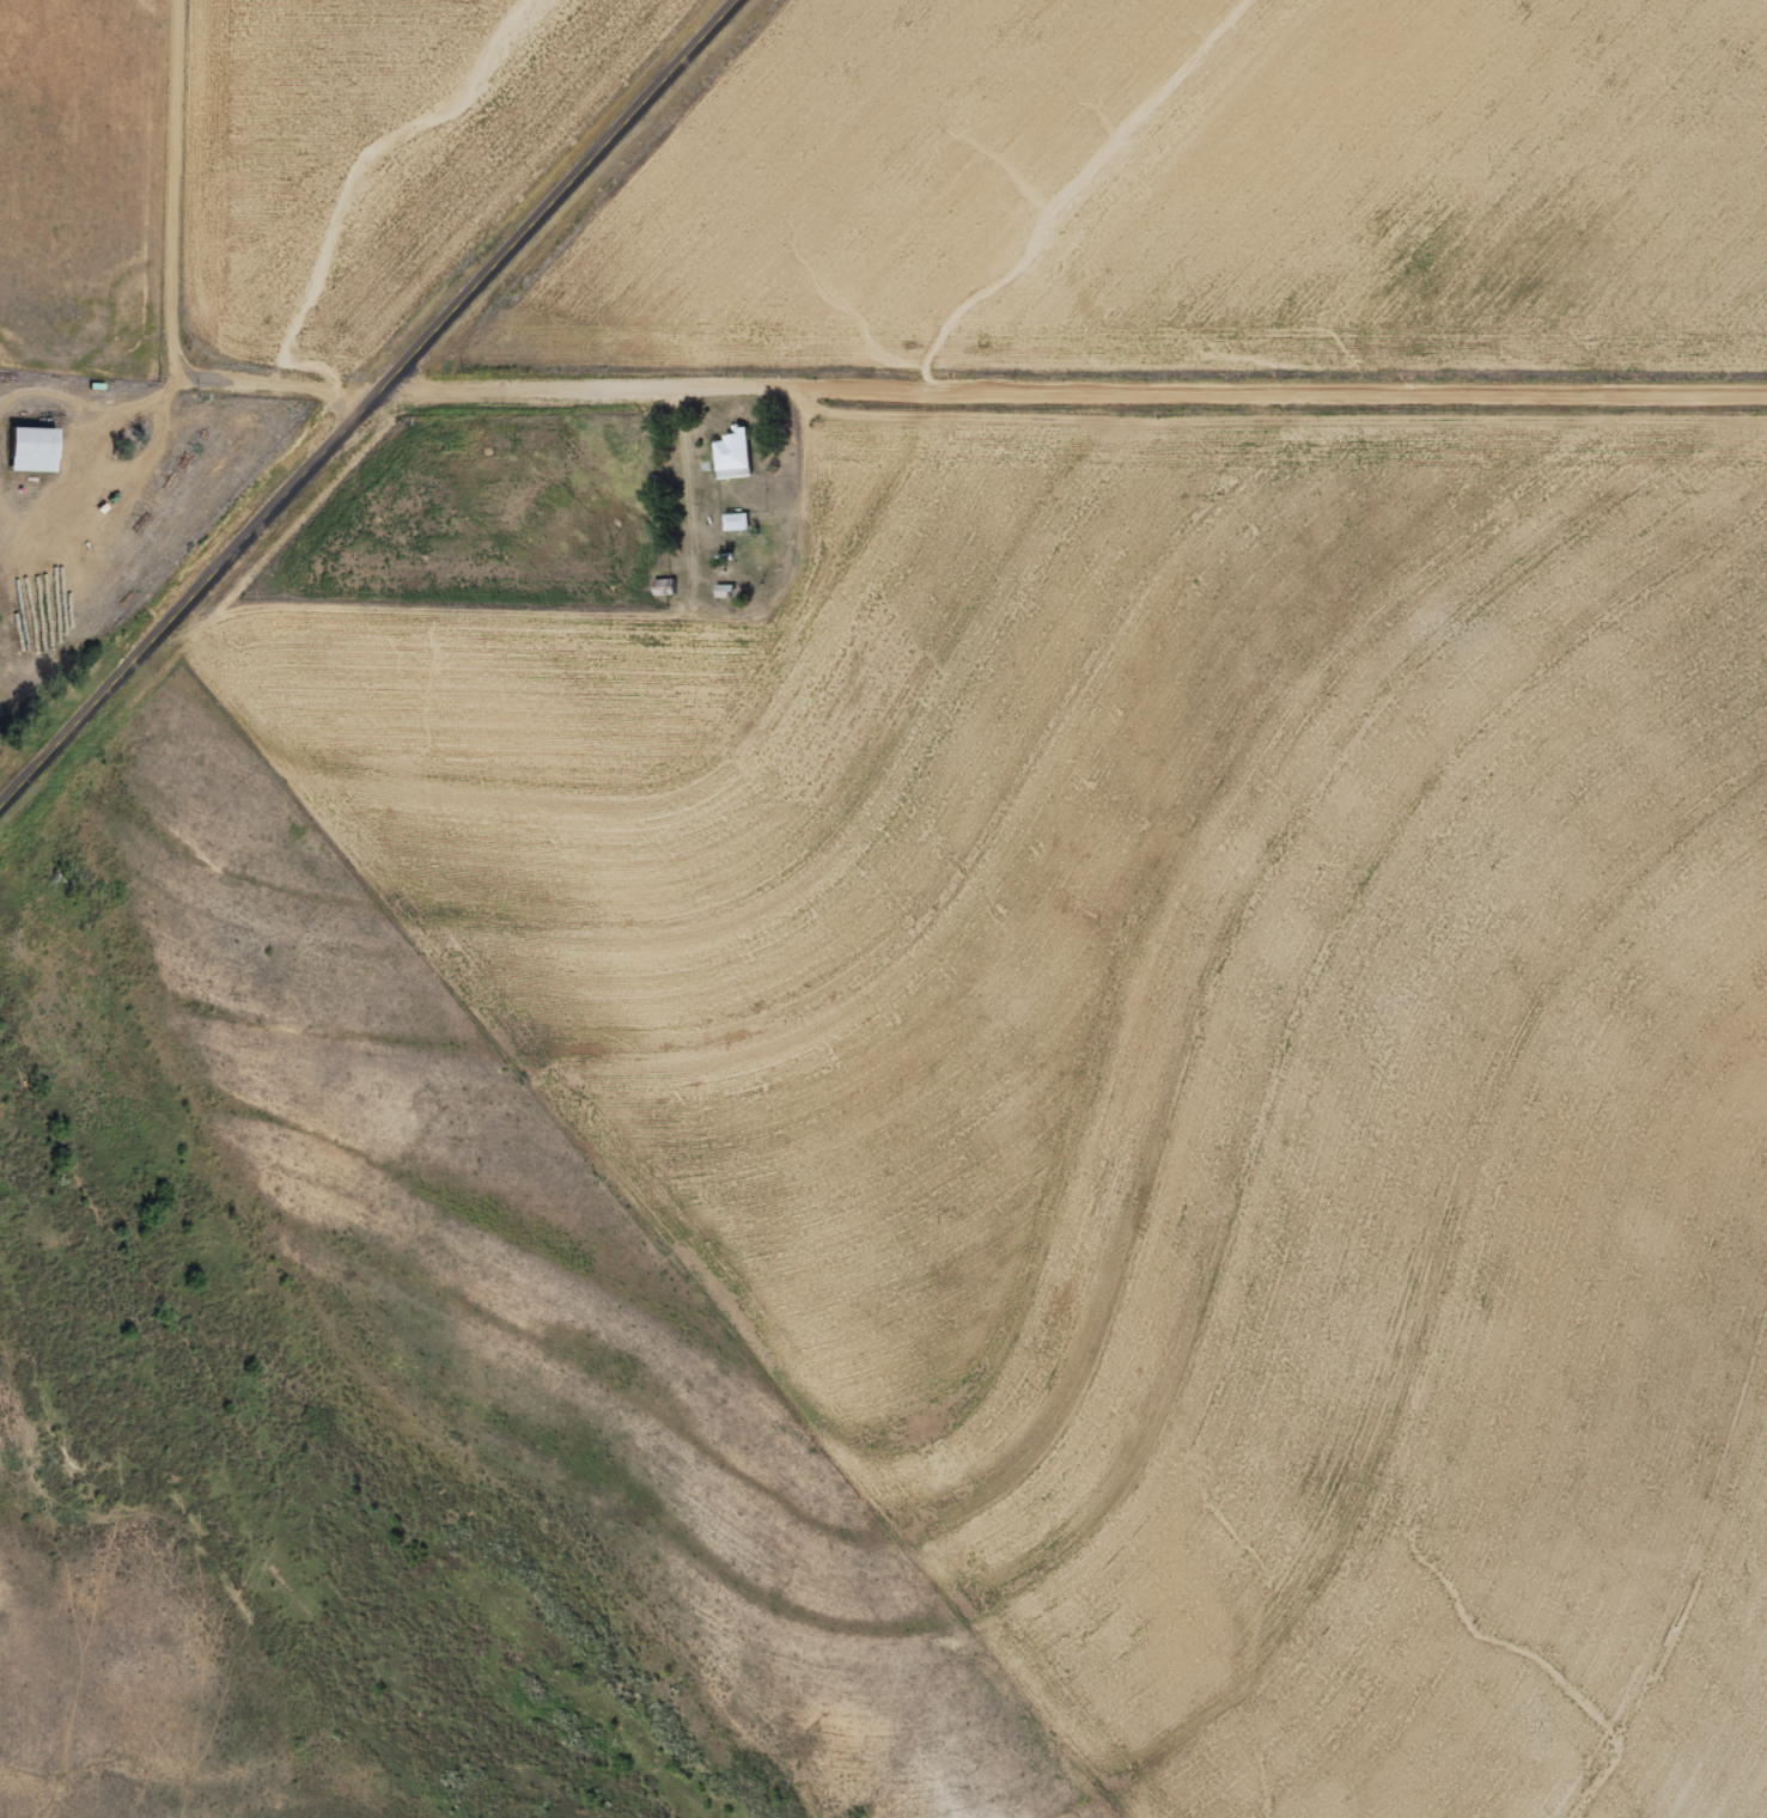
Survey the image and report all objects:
road: (182, 190)
railway: (337, 365)
road: (303, 385)
road: (1080, 389)
road: (371, 409)
building: (35, 452)
building: (737, 457)
building: (738, 524)

